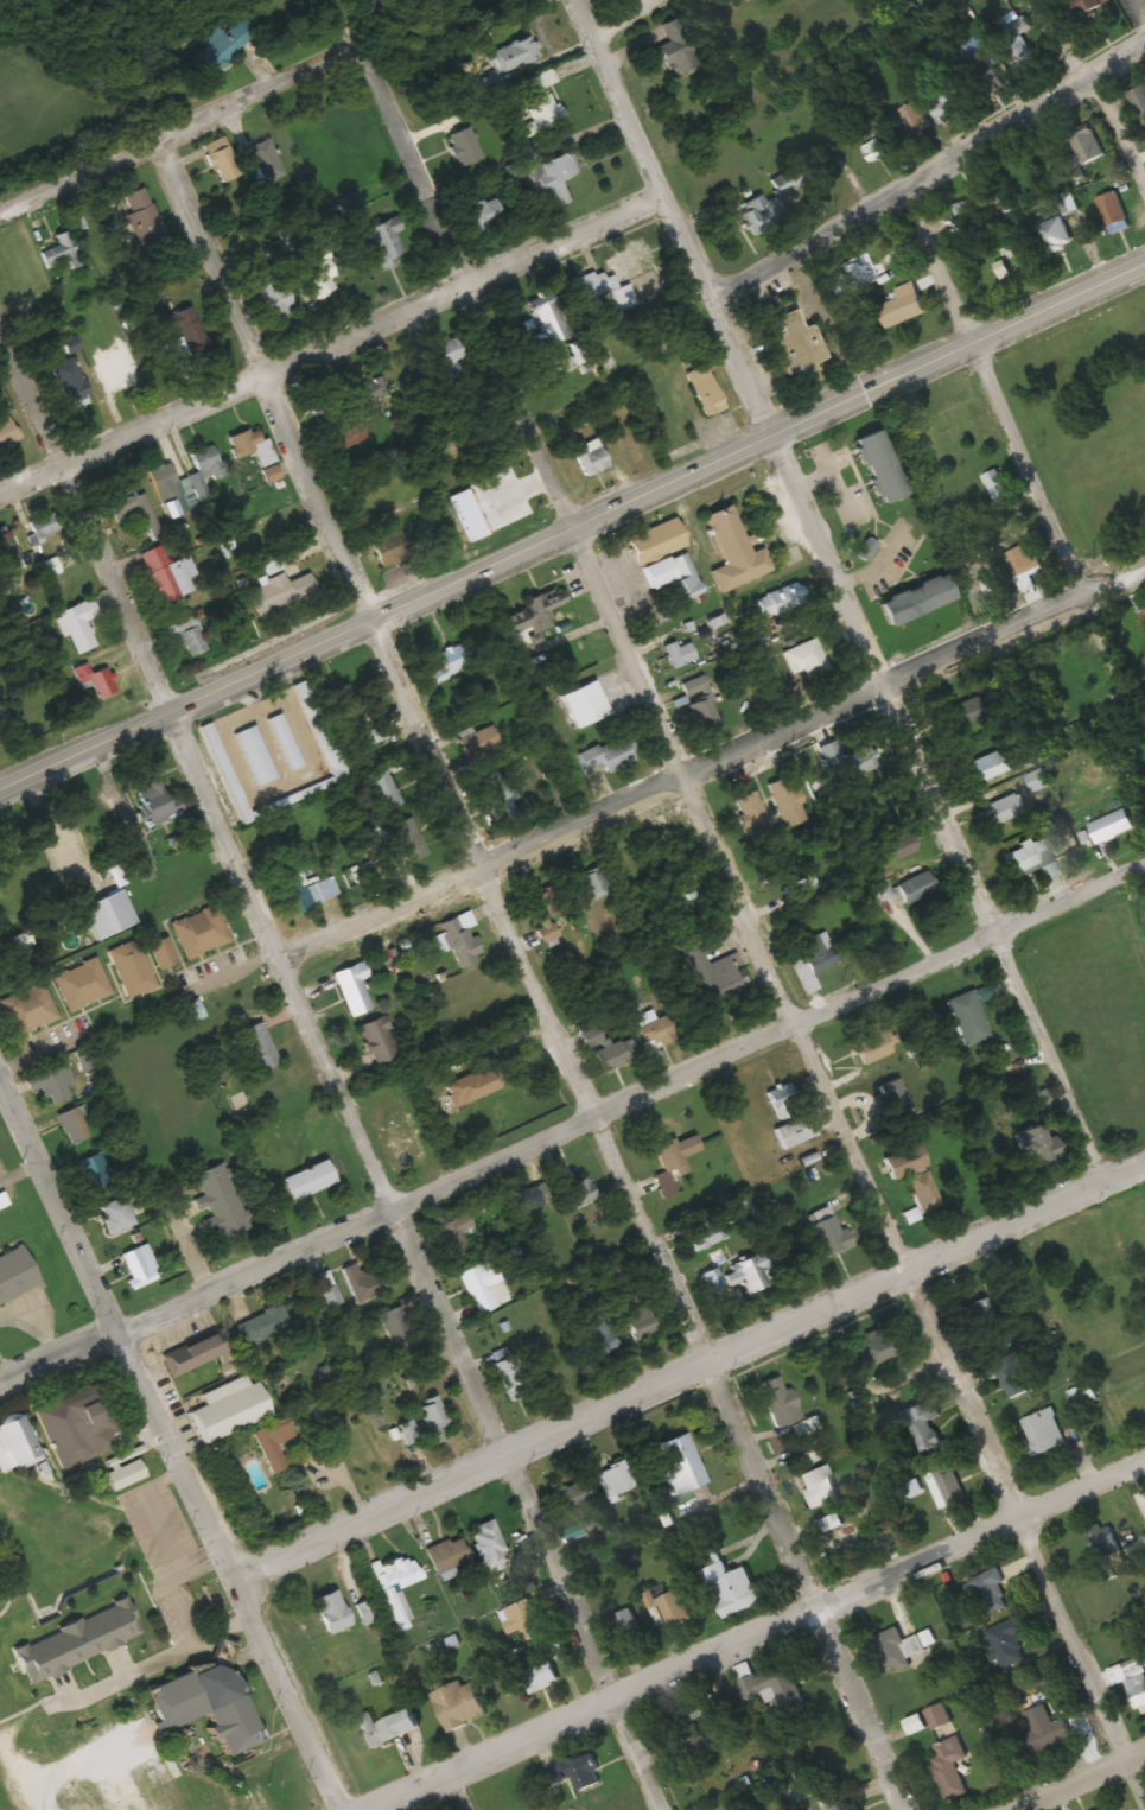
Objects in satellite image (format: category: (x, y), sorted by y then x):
building: (1082, 7)
road: (959, 39)
building: (1017, 42)
building: (222, 45)
building: (676, 47)
building: (517, 53)
road: (1103, 81)
building: (1138, 100)
building: (539, 102)
building: (944, 103)
road: (250, 104)
building: (914, 116)
building: (465, 146)
building: (1088, 148)
building: (222, 163)
road: (931, 171)
building: (555, 174)
building: (790, 178)
building: (993, 197)
building: (135, 198)
building: (1113, 211)
road: (680, 212)
building: (763, 212)
building: (481, 215)
building: (1055, 236)
building: (384, 241)
building: (59, 254)
building: (631, 262)
road: (934, 265)
building: (319, 272)
building: (590, 286)
building: (274, 294)
road: (467, 294)
building: (903, 305)
building: (547, 323)
building: (187, 330)
road: (335, 338)
building: (799, 344)
building: (581, 350)
building: (441, 360)
building: (110, 369)
building: (70, 381)
road: (259, 381)
building: (368, 389)
building: (706, 390)
building: (6, 428)
building: (350, 436)
building: (246, 443)
building: (591, 458)
building: (882, 465)
building: (206, 466)
building: (165, 483)
building: (997, 488)
building: (122, 501)
road: (572, 519)
building: (44, 526)
road: (1057, 526)
road: (78, 534)
building: (657, 540)
building: (392, 547)
building: (8, 550)
building: (736, 551)
building: (1030, 557)
building: (50, 567)
building: (167, 574)
building: (675, 576)
building: (279, 592)
building: (781, 599)
building: (918, 599)
building: (1141, 616)
building: (533, 617)
building: (78, 625)
building: (186, 636)
building: (758, 637)
building: (679, 653)
building: (453, 658)
building: (807, 659)
building: (764, 666)
building: (95, 680)
building: (586, 704)
building: (701, 704)
building: (971, 710)
building: (479, 742)
building: (611, 754)
building: (846, 761)
road: (710, 764)
building: (987, 767)
building: (1036, 781)
building: (384, 789)
building: (498, 795)
building: (787, 801)
road: (944, 801)
building: (154, 802)
building: (1003, 808)
building: (751, 812)
building: (1111, 827)
building: (407, 839)
building: (902, 845)
building: (1029, 857)
building: (142, 863)
building: (916, 884)
building: (591, 885)
building: (303, 891)
building: (104, 909)
building: (543, 914)
building: (201, 932)
building: (462, 939)
building: (163, 953)
building: (813, 960)
building: (132, 967)
building: (712, 968)
building: (82, 984)
building: (354, 987)
building: (28, 1010)
building: (969, 1017)
building: (656, 1031)
building: (380, 1040)
building: (260, 1046)
building: (874, 1046)
building: (616, 1054)
building: (49, 1084)
building: (472, 1085)
building: (893, 1099)
building: (783, 1100)
building: (72, 1125)
building: (795, 1131)
road: (575, 1135)
building: (1037, 1144)
building: (678, 1155)
road: (859, 1160)
building: (905, 1161)
building: (95, 1171)
building: (310, 1180)
building: (581, 1190)
building: (532, 1198)
building: (2, 1200)
building: (220, 1202)
road: (635, 1212)
building: (117, 1215)
building: (456, 1234)
building: (702, 1234)
building: (831, 1237)
road: (409, 1258)
building: (1098, 1264)
building: (140, 1265)
building: (751, 1272)
building: (17, 1275)
building: (479, 1279)
building: (713, 1281)
building: (364, 1282)
building: (1018, 1285)
building: (326, 1290)
building: (980, 1316)
building: (640, 1322)
building: (263, 1325)
building: (396, 1328)
building: (598, 1335)
building: (878, 1349)
building: (195, 1353)
road: (689, 1372)
building: (1011, 1376)
building: (511, 1377)
building: (780, 1402)
building: (231, 1409)
building: (78, 1423)
building: (425, 1423)
building: (921, 1424)
building: (1042, 1431)
building: (273, 1442)
building: (18, 1443)
road: (171, 1449)
building: (680, 1463)
building: (616, 1481)
building: (819, 1486)
building: (948, 1490)
building: (572, 1494)
building: (837, 1532)
building: (1102, 1542)
building: (489, 1544)
building: (449, 1555)
building: (397, 1587)
building: (730, 1589)
building: (987, 1593)
building: (674, 1609)
building: (333, 1612)
building: (521, 1620)
building: (625, 1632)
road: (755, 1633)
building: (77, 1640)
building: (1006, 1641)
building: (901, 1650)
building: (540, 1677)
building: (768, 1687)
building: (1137, 1690)
building: (209, 1704)
building: (458, 1706)
building: (937, 1717)
building: (388, 1728)
building: (691, 1728)
building: (1045, 1730)
building: (949, 1768)
building: (574, 1773)
road: (1079, 1779)
road: (453, 1791)
building: (839, 1802)

